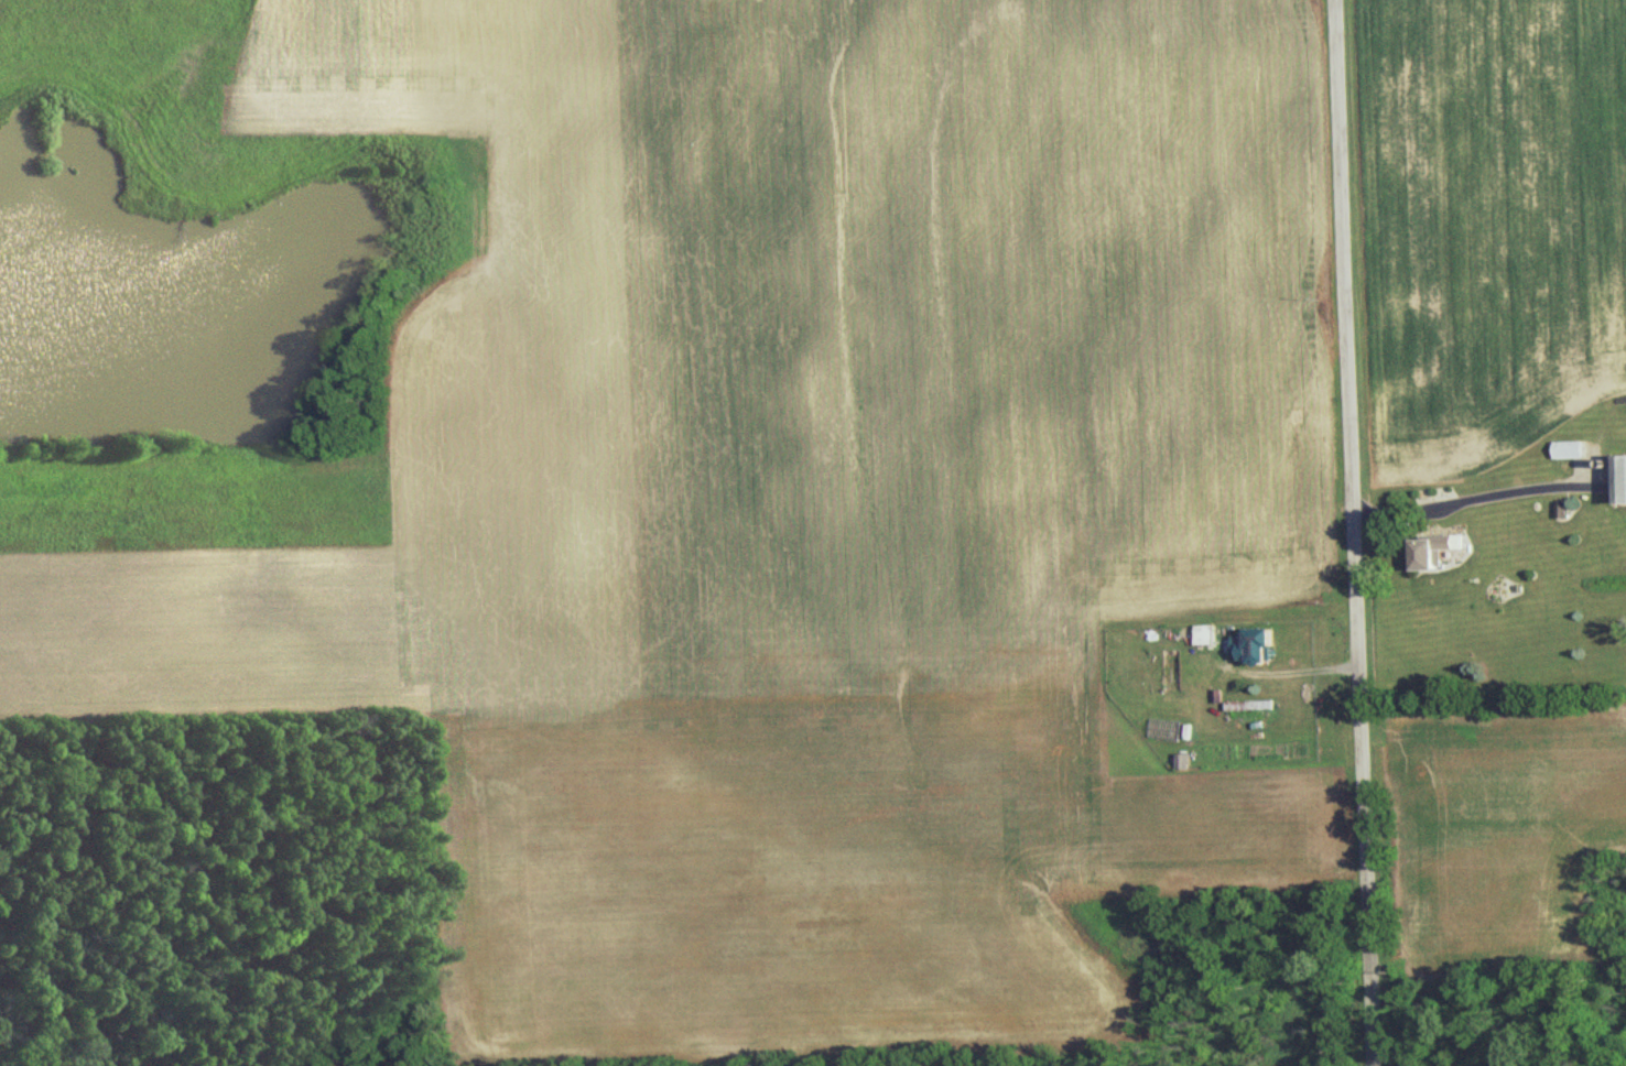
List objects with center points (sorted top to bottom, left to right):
building: (1572, 447)
building: (1623, 477)
building: (1564, 508)
road: (1351, 533)
building: (1441, 547)
building: (1265, 643)
building: (1251, 703)

